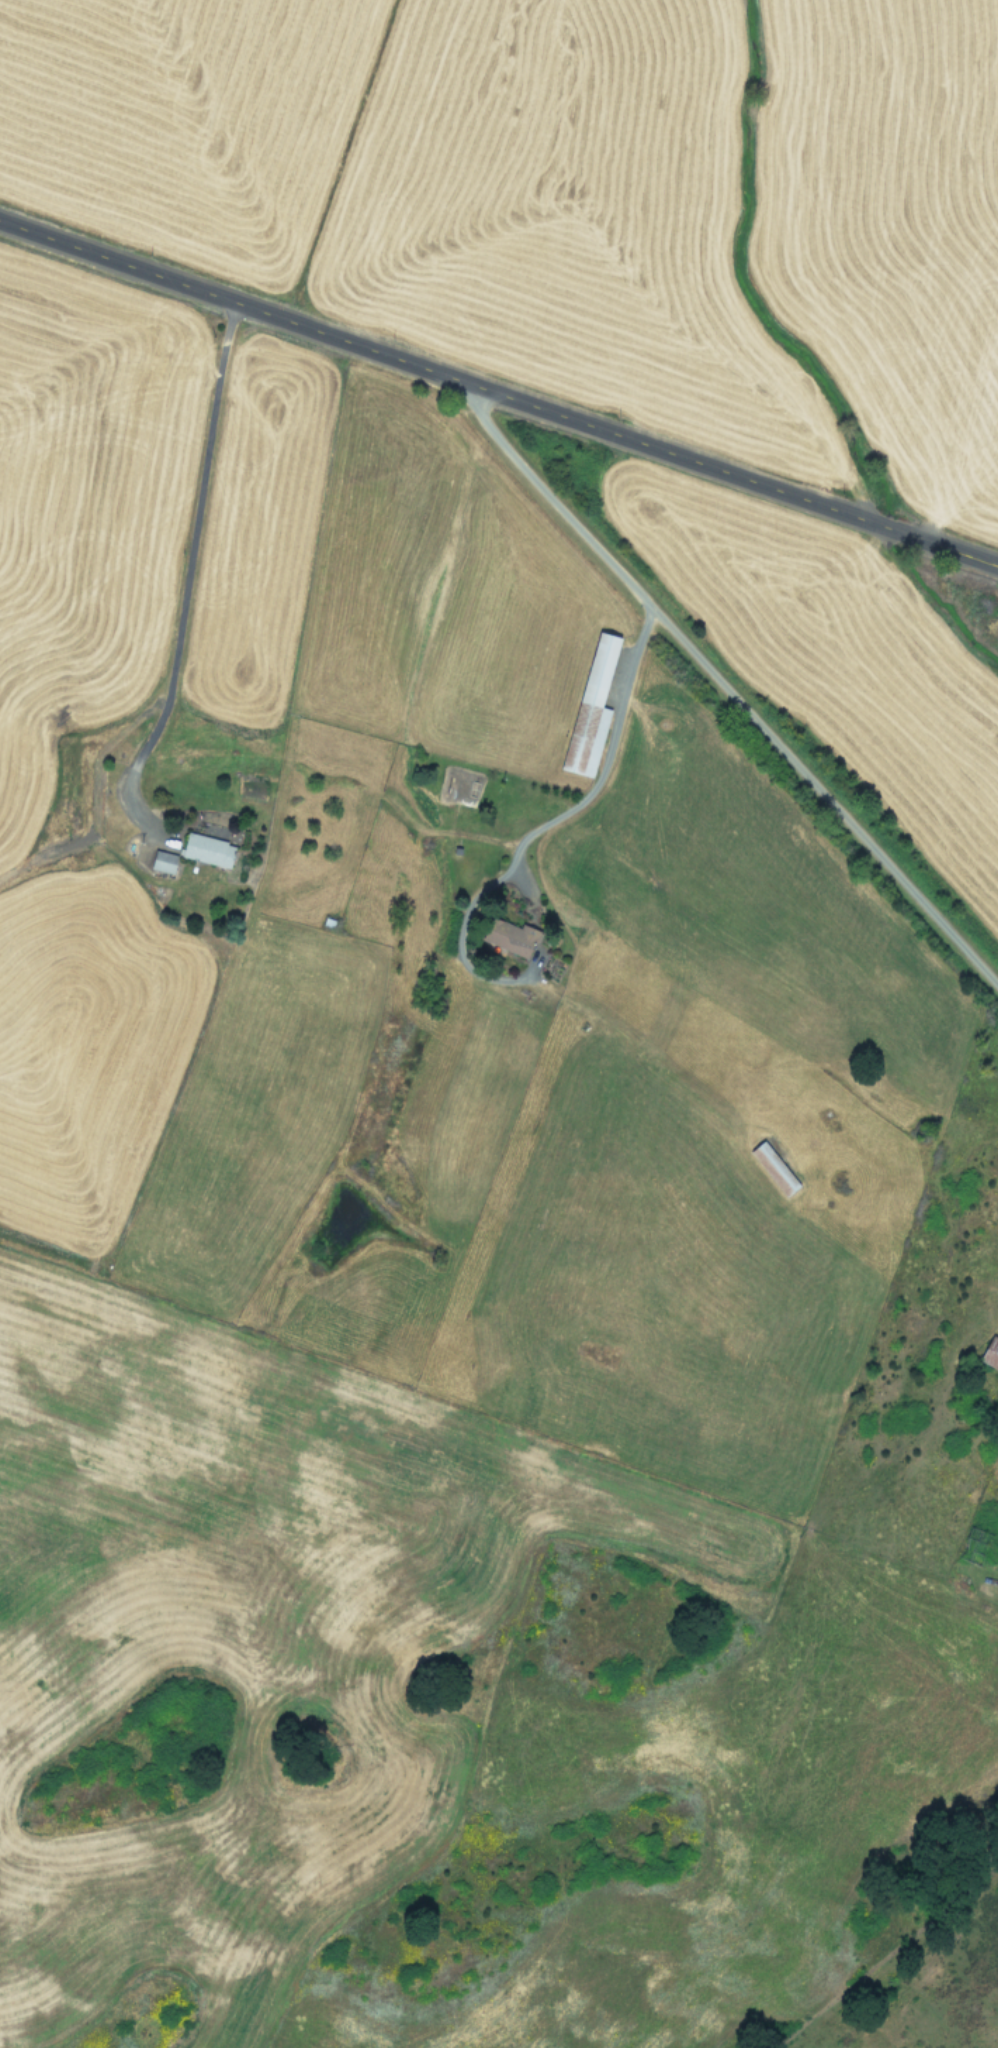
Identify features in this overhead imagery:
road: (499, 390)
road: (190, 558)
road: (728, 689)
building: (586, 712)
road: (604, 763)
building: (203, 849)
building: (159, 861)
building: (505, 936)
crop: (485, 992)
building: (770, 1168)
building: (990, 1352)

